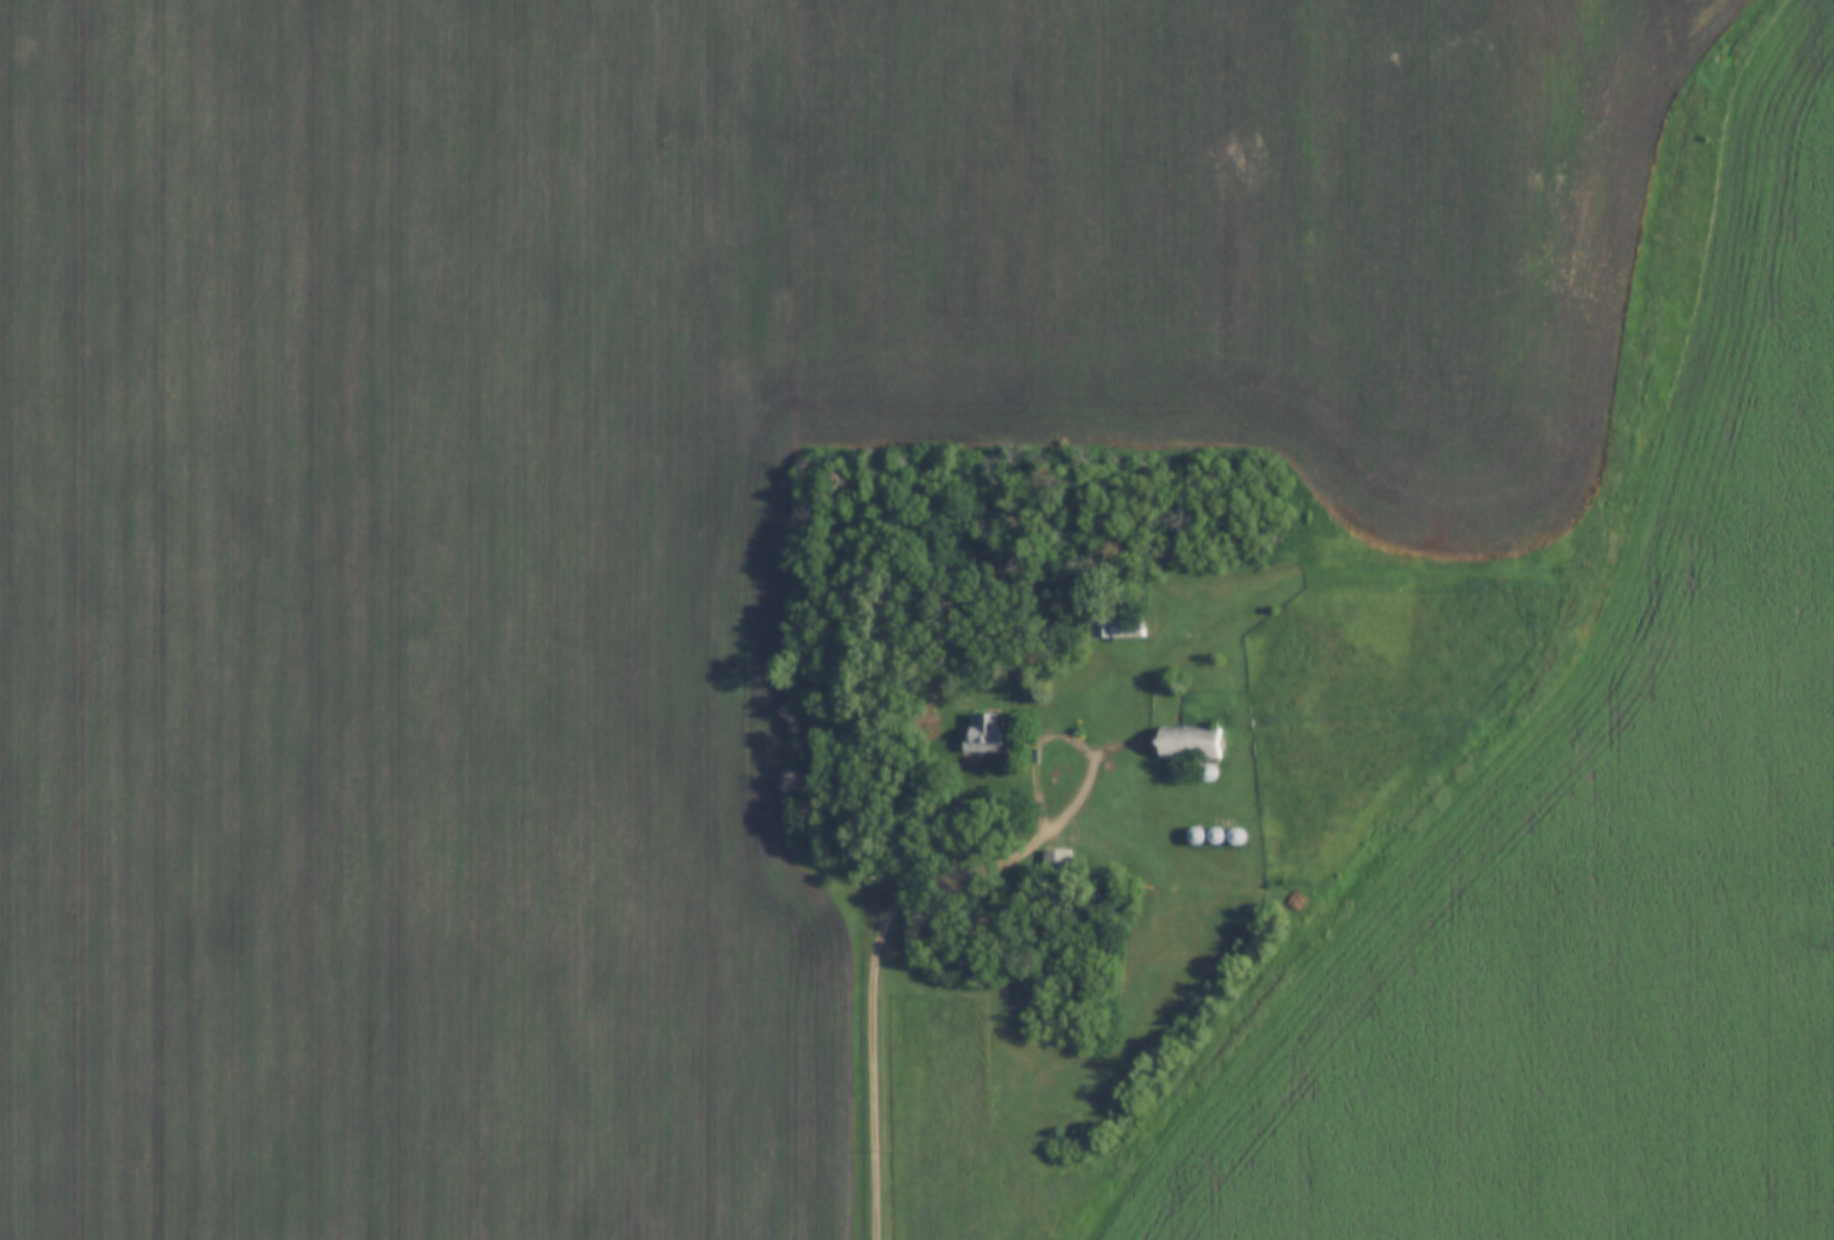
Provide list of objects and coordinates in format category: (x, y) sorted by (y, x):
building: (1129, 632)
building: (984, 732)
building: (1188, 743)
building: (1057, 860)
road: (879, 940)

